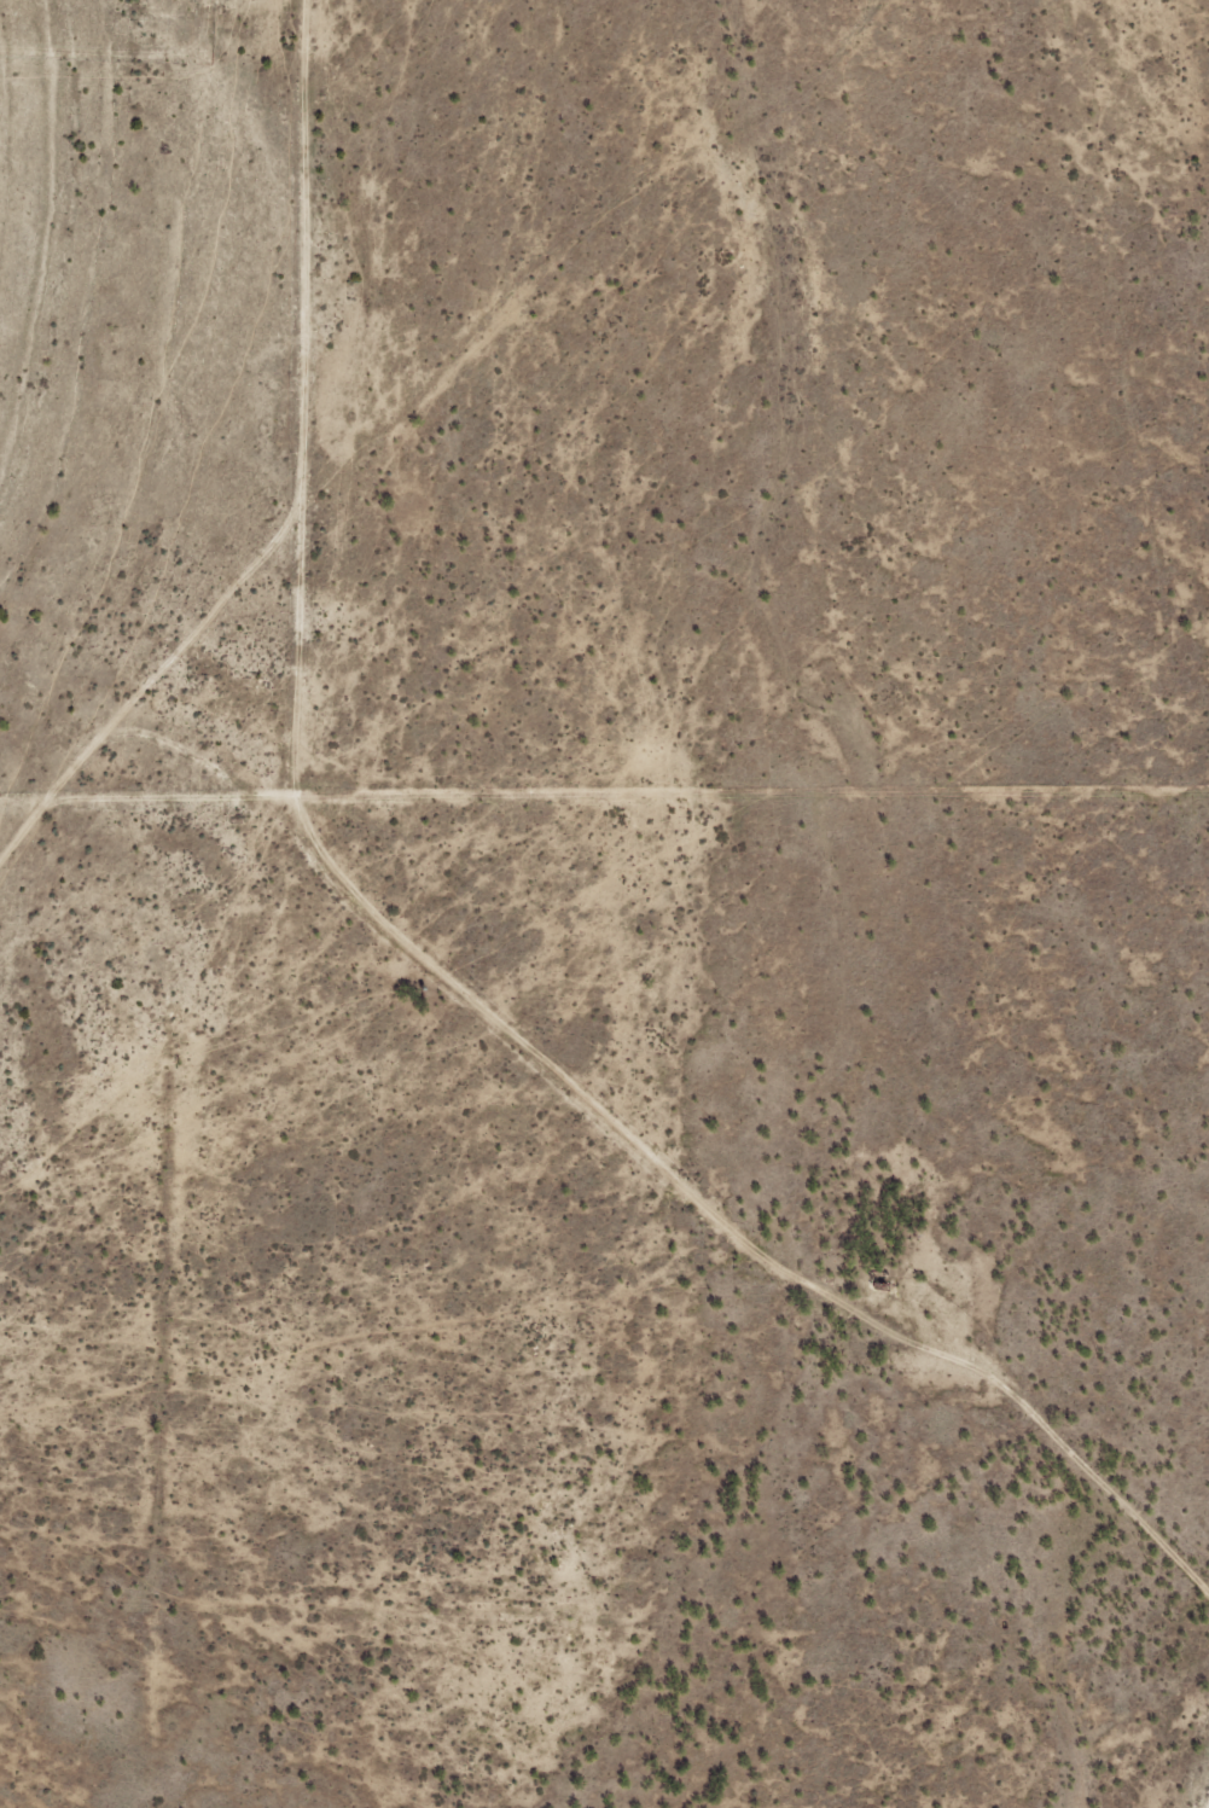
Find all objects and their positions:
road: (272, 264)
road: (409, 449)
road: (632, 1127)

